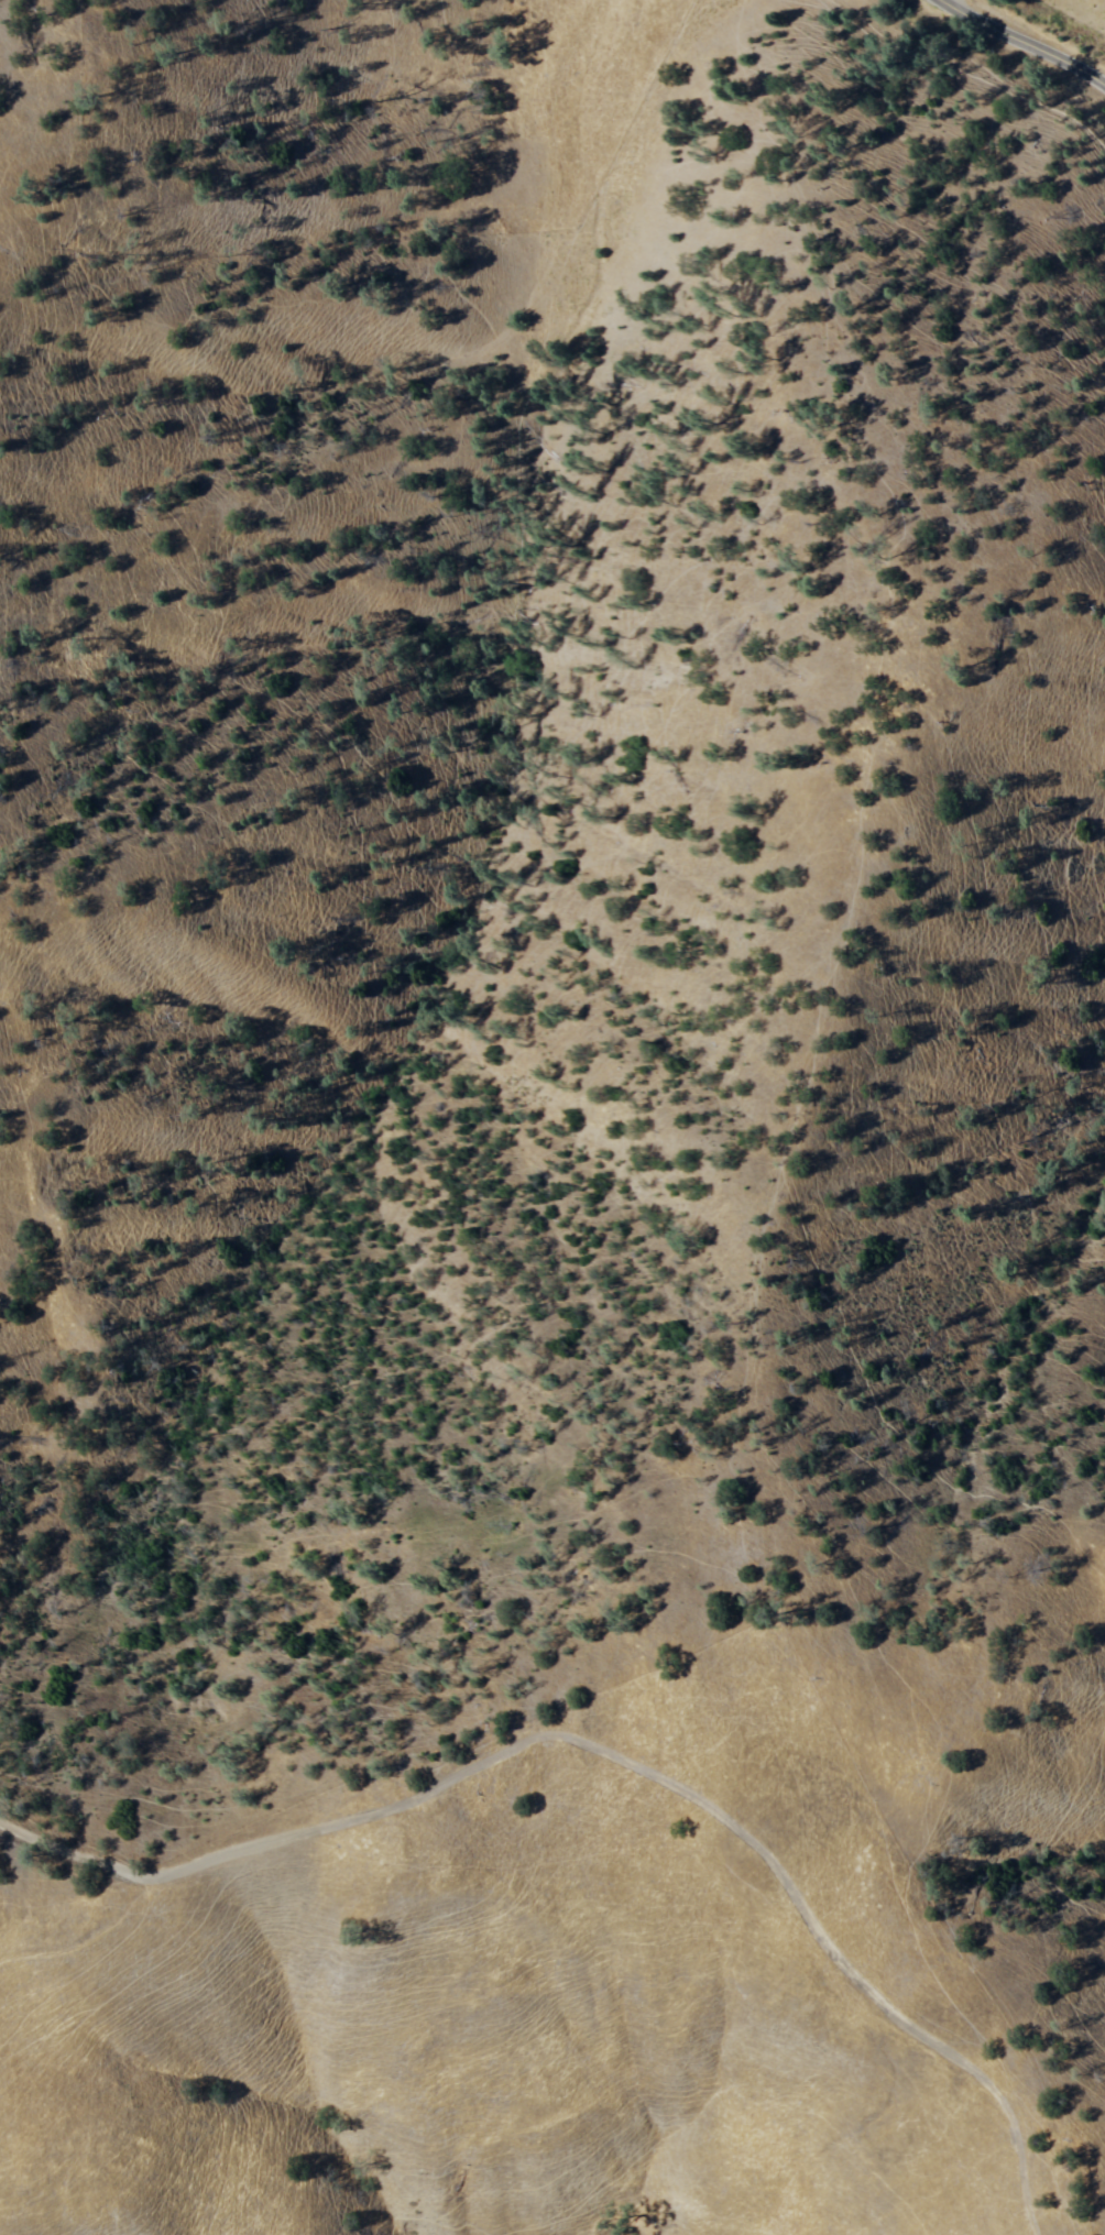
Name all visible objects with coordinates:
road: (1029, 36)

